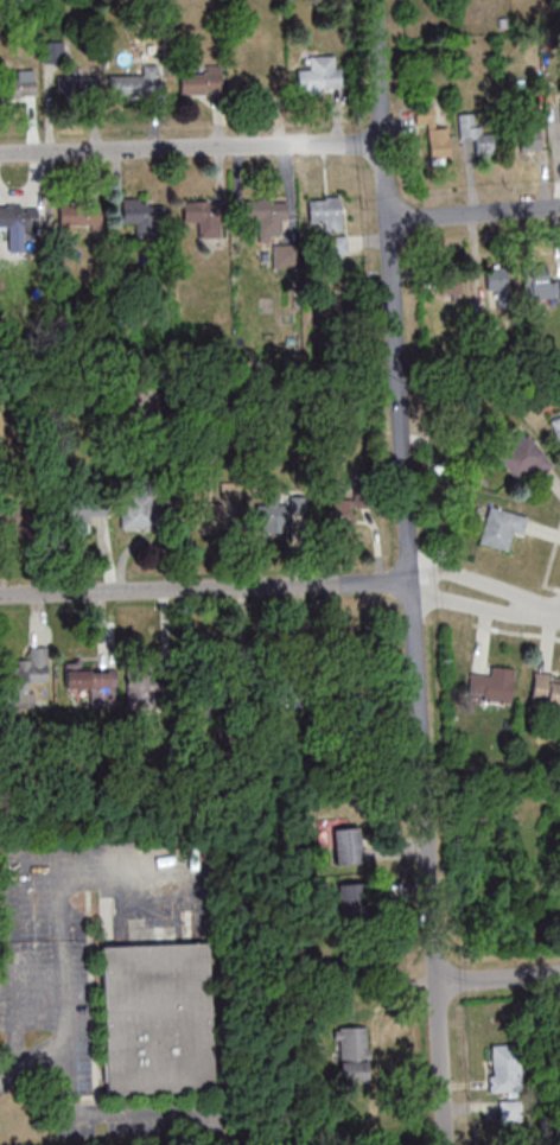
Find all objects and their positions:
building: (322, 72)
building: (135, 82)
building: (201, 82)
building: (262, 82)
building: (18, 85)
building: (77, 85)
building: (424, 110)
building: (477, 132)
building: (529, 133)
building: (439, 142)
road: (189, 147)
building: (326, 211)
road: (473, 211)
building: (76, 214)
building: (145, 216)
building: (204, 216)
building: (271, 216)
building: (20, 218)
building: (338, 244)
building: (540, 281)
building: (450, 282)
building: (497, 287)
building: (113, 405)
building: (556, 427)
building: (526, 458)
building: (139, 509)
building: (335, 513)
building: (208, 514)
building: (263, 515)
building: (79, 517)
building: (502, 526)
road: (547, 561)
road: (407, 572)
road: (485, 584)
road: (203, 587)
road: (483, 606)
road: (559, 616)
road: (514, 631)
building: (255, 647)
building: (25, 678)
building: (93, 683)
building: (492, 685)
building: (546, 688)
building: (151, 689)
building: (348, 845)
building: (357, 901)
road: (64, 929)
road: (11, 941)
road: (499, 978)
building: (154, 1016)
building: (354, 1052)
building: (504, 1067)
road: (84, 1114)

